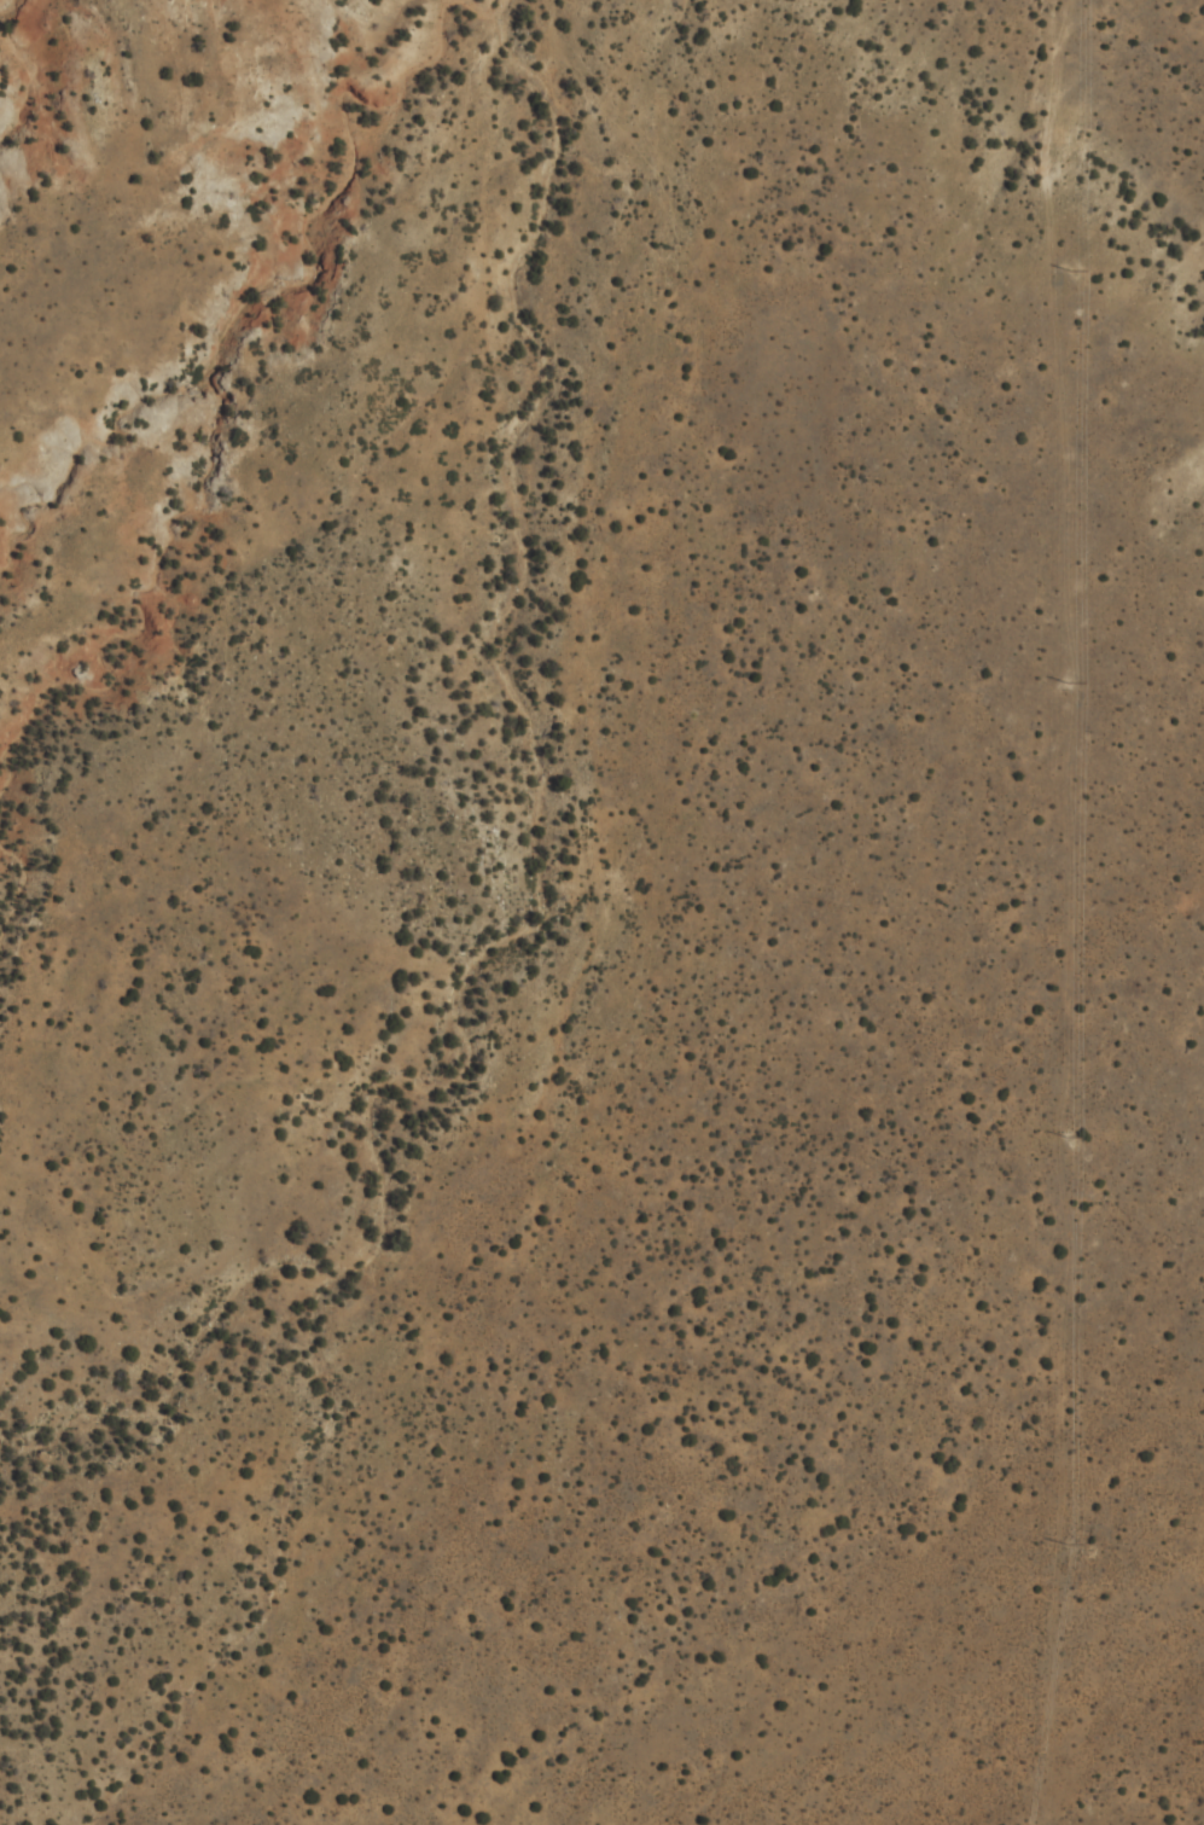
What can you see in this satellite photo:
power tower: (1059, 267)
power tower: (1060, 681)
power tower: (1059, 1134)
power tower: (1059, 1541)

